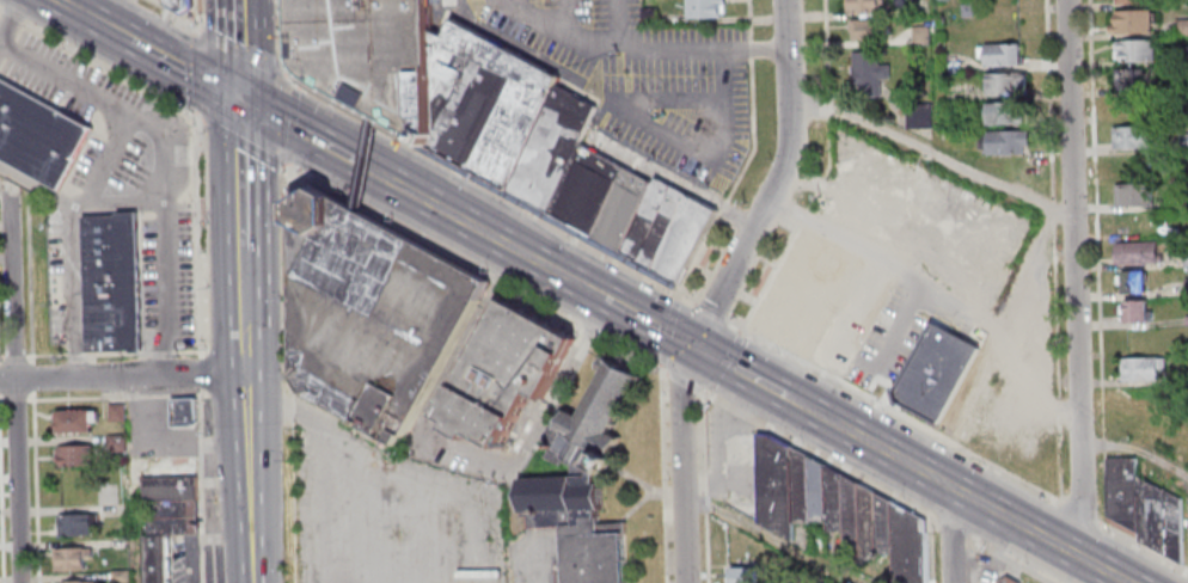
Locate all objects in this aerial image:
building: (1128, 1)
road: (65, 5)
building: (183, 6)
building: (864, 6)
building: (706, 8)
road: (172, 13)
road: (198, 16)
building: (1133, 20)
road: (13, 22)
road: (100, 24)
road: (621, 26)
building: (1183, 26)
building: (865, 30)
road: (278, 42)
road: (0, 44)
road: (237, 49)
road: (637, 51)
building: (1134, 51)
road: (241, 54)
building: (1000, 54)
building: (368, 59)
road: (97, 60)
road: (182, 68)
road: (192, 70)
parking lot: (59, 72)
building: (869, 72)
parking lot: (642, 75)
building: (1127, 79)
building: (1008, 84)
traffic signals: (239, 99)
building: (1006, 112)
building: (919, 115)
road: (292, 128)
road: (295, 131)
building: (39, 137)
building: (1134, 137)
road: (240, 141)
building: (1004, 141)
road: (931, 152)
road: (749, 154)
road: (166, 159)
parking lot: (112, 164)
building: (360, 166)
road: (366, 168)
road: (240, 173)
road: (823, 173)
road: (5, 180)
road: (484, 186)
building: (1134, 195)
road: (129, 198)
road: (473, 226)
road: (198, 232)
road: (74, 234)
road: (743, 245)
building: (1138, 252)
road: (1024, 265)
road: (476, 268)
parking lot: (169, 275)
road: (1073, 280)
building: (1132, 281)
parking lot: (59, 282)
building: (115, 283)
road: (243, 288)
road: (584, 288)
road: (941, 290)
road: (709, 311)
building: (1134, 311)
building: (372, 317)
road: (645, 321)
road: (669, 331)
building: (869, 332)
traffic signals: (692, 346)
road: (724, 360)
building: (1143, 368)
road: (740, 372)
building: (508, 373)
road: (123, 376)
road: (290, 379)
road: (684, 380)
road: (18, 382)
road: (203, 382)
road: (36, 385)
road: (1, 386)
road: (115, 397)
road: (4, 400)
road: (18, 400)
road: (810, 411)
building: (188, 413)
building: (121, 415)
building: (80, 423)
building: (598, 426)
building: (120, 444)
road: (1137, 449)
road: (965, 450)
road: (817, 453)
road: (249, 454)
building: (79, 456)
road: (135, 479)
building: (774, 483)
road: (703, 484)
road: (38, 486)
road: (203, 486)
road: (4, 487)
building: (173, 490)
building: (565, 503)
road: (979, 503)
building: (1144, 508)
building: (177, 521)
building: (81, 524)
road: (951, 526)
road: (682, 533)
road: (950, 534)
road: (770, 536)
road: (202, 541)
building: (599, 554)
building: (74, 560)
building: (159, 560)
road: (1014, 560)
building: (741, 575)
building: (124, 577)
building: (1008, 579)
building: (96, 582)

